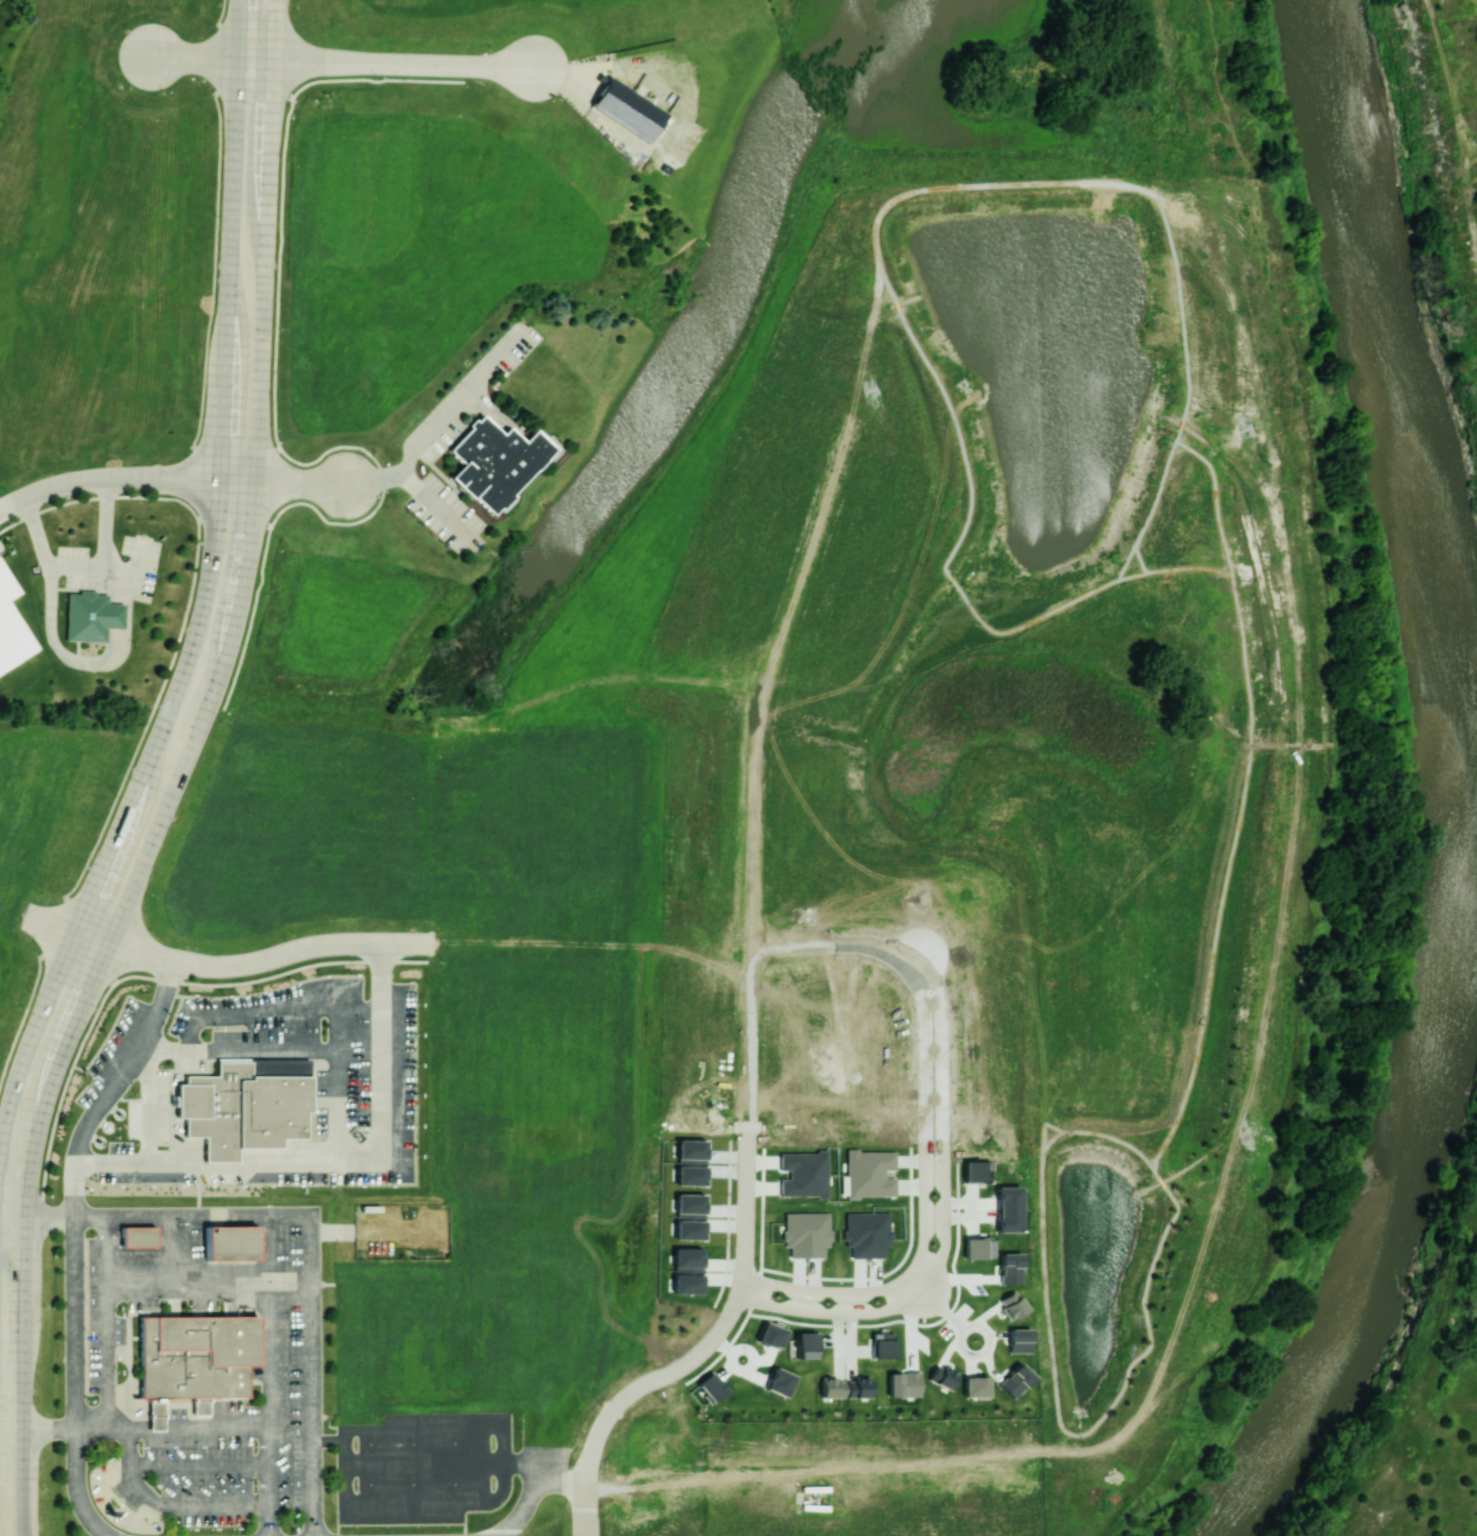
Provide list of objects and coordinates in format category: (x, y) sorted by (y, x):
road: (210, 56)
road: (405, 63)
building: (627, 109)
park: (1438, 175)
road: (443, 419)
building: (490, 464)
road: (124, 477)
road: (305, 485)
road: (439, 507)
road: (101, 517)
road: (35, 529)
road: (76, 565)
road: (205, 592)
building: (110, 615)
building: (81, 617)
building: (11, 627)
road: (180, 776)
river: (1457, 789)
road: (226, 967)
road: (337, 1001)
road: (185, 1052)
park: (1474, 1089)
building: (245, 1104)
road: (934, 1145)
road: (338, 1166)
building: (869, 1173)
building: (1006, 1209)
road: (50, 1217)
building: (138, 1234)
road: (332, 1237)
road: (73, 1238)
building: (233, 1242)
road: (175, 1253)
road: (309, 1262)
building: (1009, 1268)
road: (18, 1283)
road: (208, 1285)
road: (903, 1291)
road: (903, 1300)
building: (1011, 1304)
road: (942, 1310)
road: (108, 1326)
building: (770, 1335)
building: (1018, 1340)
road: (962, 1349)
road: (697, 1352)
building: (199, 1354)
building: (941, 1376)
road: (269, 1379)
building: (1014, 1380)
building: (778, 1382)
building: (903, 1384)
building: (974, 1386)
building: (203, 1406)
building: (158, 1413)
road: (192, 1432)
road: (50, 1435)
road: (327, 1445)
road: (344, 1468)
road: (199, 1469)
road: (447, 1469)
road: (537, 1496)
road: (170, 1510)

